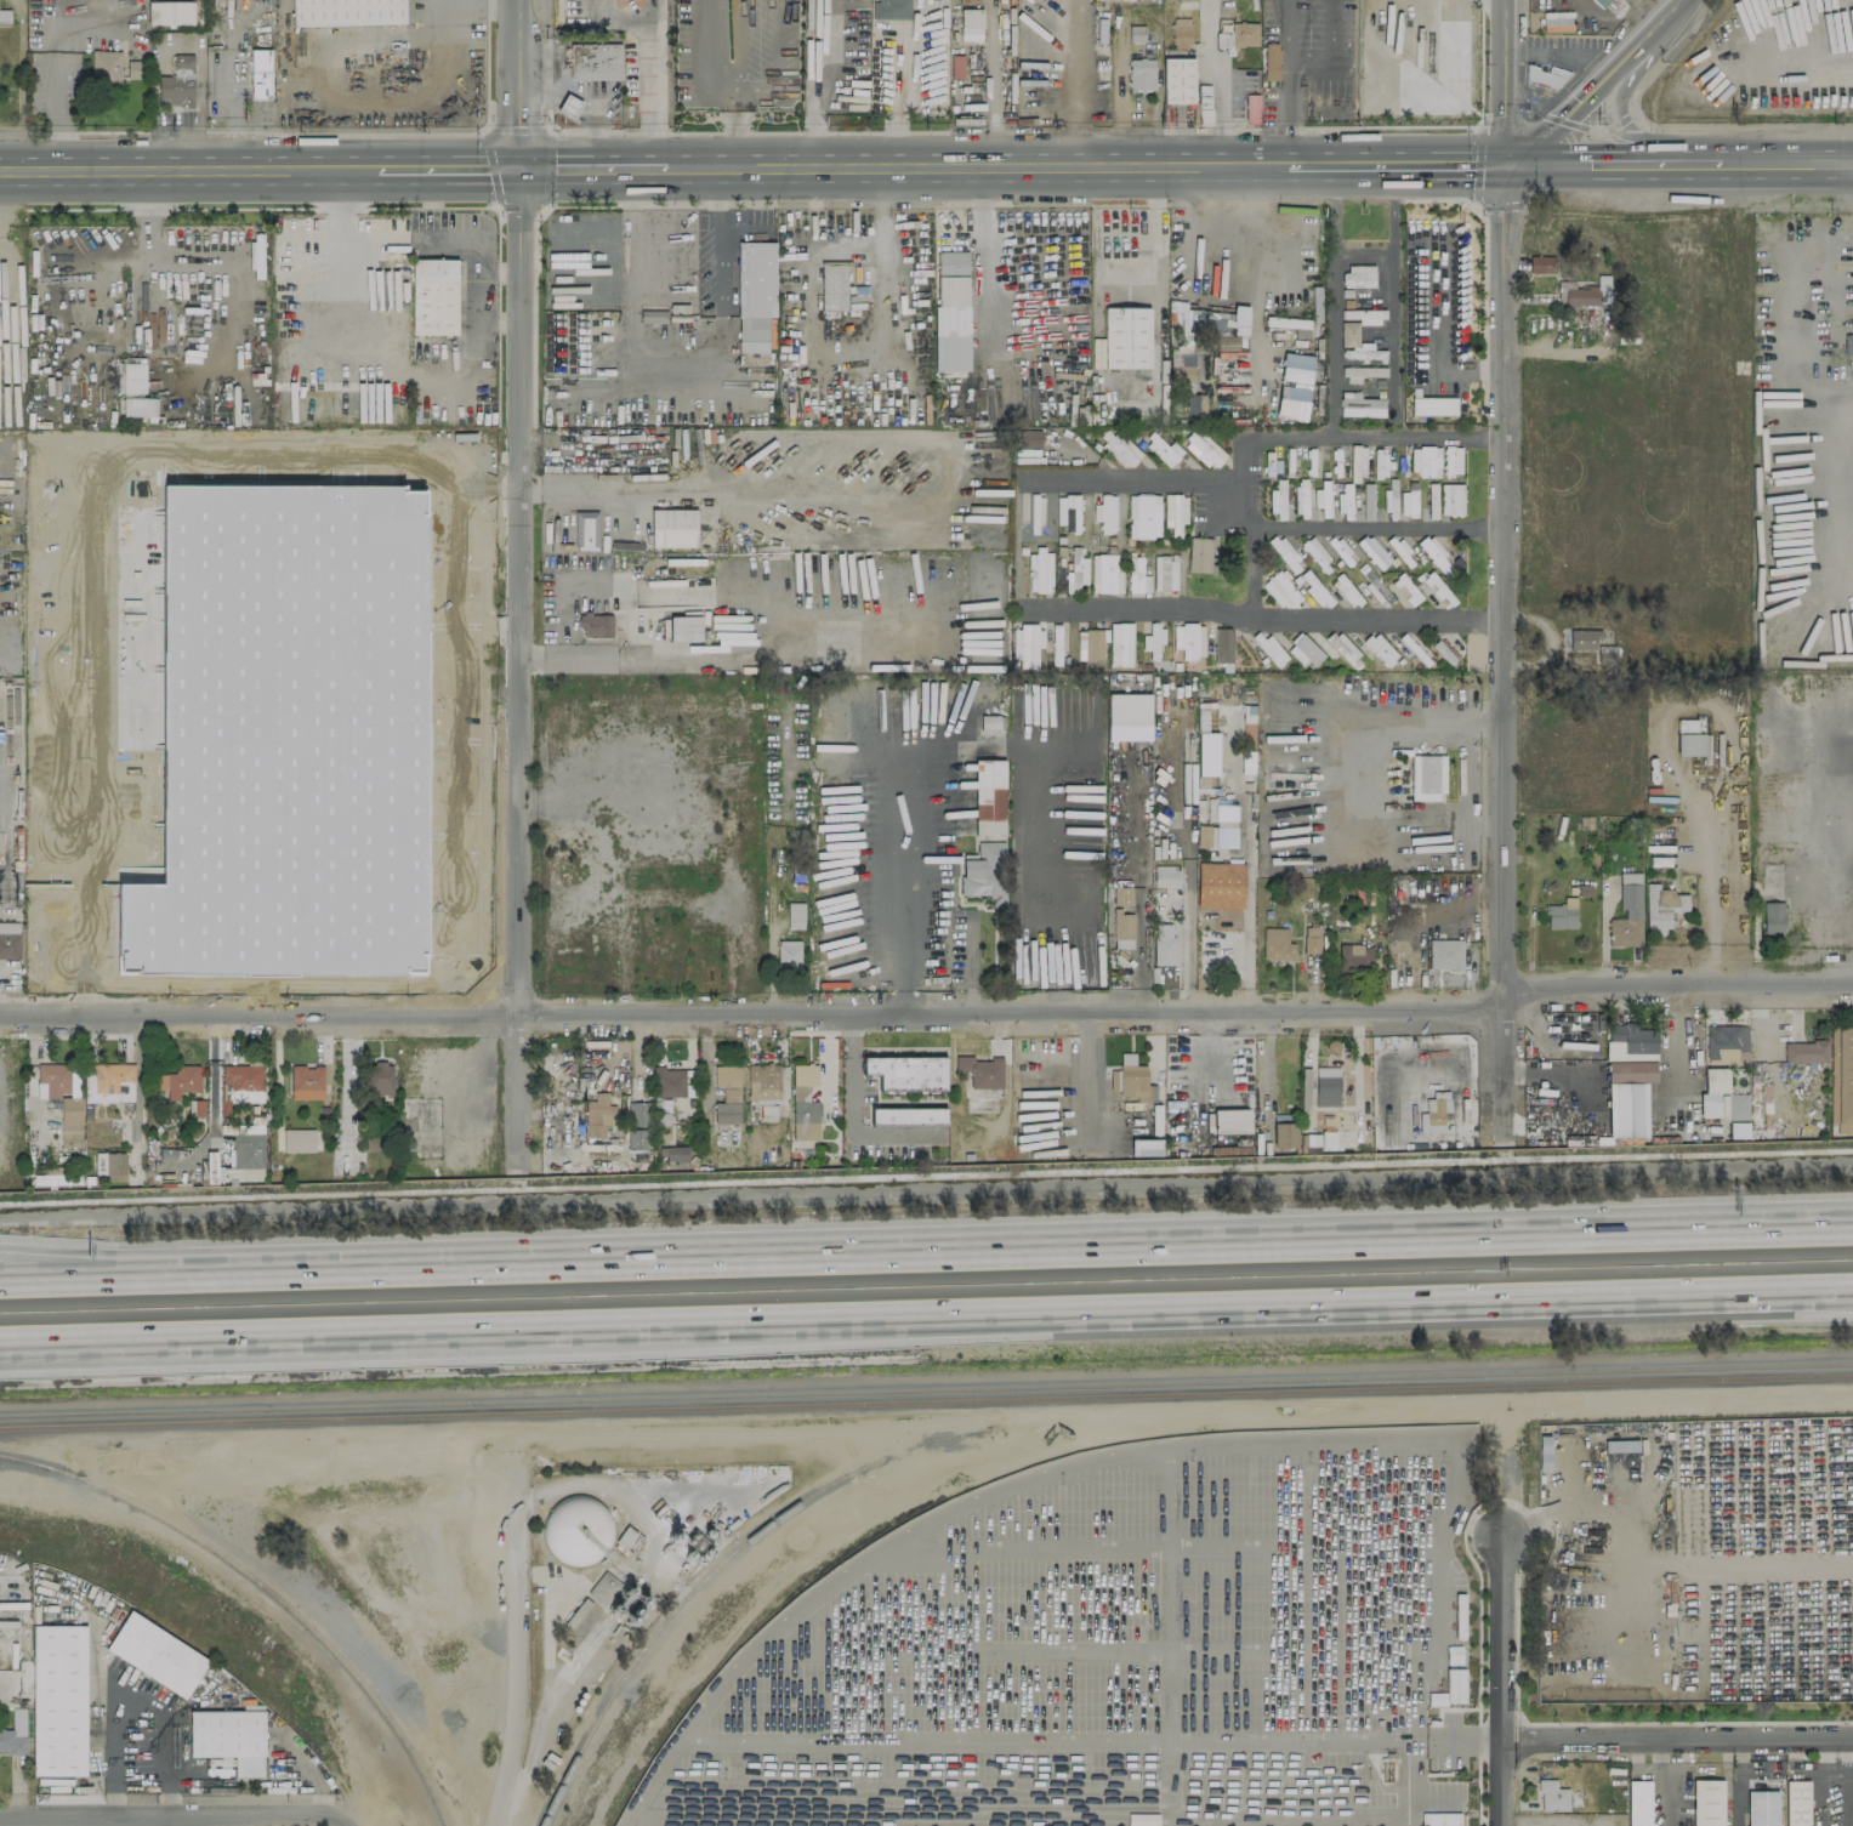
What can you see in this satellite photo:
building: (1599, 2)
building: (892, 8)
building: (170, 12)
building: (346, 12)
road: (616, 12)
building: (4, 15)
building: (1556, 21)
building: (970, 24)
road: (1288, 29)
road: (1330, 29)
building: (1136, 33)
building: (1243, 34)
road: (1309, 59)
building: (593, 61)
building: (1271, 61)
building: (106, 66)
building: (135, 69)
building: (260, 73)
building: (1141, 74)
building: (1177, 80)
road: (824, 81)
road: (991, 81)
road: (1217, 81)
building: (177, 83)
road: (523, 83)
road: (650, 83)
road: (1022, 83)
road: (1507, 83)
road: (1592, 83)
road: (55, 84)
road: (220, 89)
road: (586, 102)
road: (371, 103)
road: (897, 104)
building: (568, 106)
building: (1251, 109)
road: (1614, 110)
road: (1288, 112)
road: (233, 142)
road: (1786, 163)
road: (1580, 164)
road: (1686, 164)
road: (976, 165)
road: (1398, 165)
road: (449, 166)
road: (593, 166)
road: (187, 169)
road: (428, 188)
road: (335, 189)
road: (430, 222)
road: (983, 246)
road: (200, 258)
road: (1159, 264)
building: (1541, 264)
road: (107, 266)
building: (1358, 275)
building: (1585, 292)
building: (755, 295)
building: (433, 296)
road: (1331, 301)
road: (1394, 301)
building: (950, 311)
building: (1357, 324)
road: (484, 325)
road: (508, 325)
building: (1126, 337)
building: (845, 345)
building: (1848, 346)
building: (1363, 352)
road: (670, 370)
building: (1362, 372)
building: (132, 377)
road: (467, 379)
building: (1294, 386)
building: (1195, 404)
building: (1359, 405)
building: (138, 406)
building: (1432, 406)
road: (1364, 437)
building: (1030, 438)
road: (1453, 438)
building: (1118, 446)
building: (1204, 448)
building: (1161, 449)
building: (1357, 460)
building: (1425, 461)
building: (1451, 461)
building: (444, 473)
road: (1130, 479)
road: (586, 493)
building: (1301, 499)
building: (1323, 499)
building: (1450, 499)
building: (1278, 500)
building: (1345, 501)
building: (1366, 501)
building: (1409, 501)
building: (1432, 501)
building: (1067, 512)
building: (1105, 513)
building: (1175, 513)
building: (1143, 516)
road: (1285, 527)
building: (672, 528)
building: (585, 530)
building: (283, 536)
road: (75, 541)
building: (461, 541)
building: (411, 550)
building: (1372, 551)
building: (1314, 552)
building: (1436, 556)
building: (1040, 570)
building: (1075, 571)
road: (1249, 571)
building: (1136, 575)
building: (1160, 582)
building: (1434, 586)
building: (1280, 590)
building: (1315, 590)
building: (1405, 590)
building: (466, 597)
road: (1264, 618)
building: (595, 625)
building: (683, 627)
building: (1153, 639)
building: (1188, 639)
building: (1582, 639)
building: (1090, 643)
building: (1120, 643)
building: (1025, 644)
building: (1056, 644)
building: (1223, 645)
building: (1343, 648)
building: (1380, 648)
building: (1303, 650)
road: (632, 653)
road: (1507, 654)
building: (460, 655)
building: (414, 665)
road: (522, 665)
road: (442, 671)
building: (373, 704)
building: (434, 704)
building: (1129, 709)
building: (991, 722)
building: (1689, 743)
road: (1363, 778)
building: (1426, 778)
building: (989, 789)
road: (1834, 806)
building: (450, 807)
road: (483, 820)
building: (1217, 829)
building: (1081, 853)
building: (984, 872)
building: (1165, 875)
building: (1220, 884)
building: (1121, 895)
road: (1711, 898)
building: (1661, 905)
road: (902, 911)
building: (1562, 914)
building: (1627, 914)
building: (795, 915)
building: (1772, 917)
building: (1122, 925)
road: (1246, 935)
road: (1188, 938)
building: (1311, 938)
building: (8, 940)
building: (1164, 944)
building: (1277, 944)
building: (120, 951)
building: (788, 954)
building: (1445, 955)
building: (1352, 958)
road: (968, 962)
road: (930, 1009)
building: (1723, 1043)
building: (1804, 1052)
road: (217, 1071)
building: (981, 1071)
building: (906, 1073)
building: (379, 1077)
building: (1841, 1077)
building: (1629, 1079)
building: (1129, 1080)
building: (56, 1081)
building: (110, 1081)
building: (180, 1081)
building: (666, 1081)
building: (762, 1081)
building: (306, 1082)
building: (241, 1083)
building: (1326, 1086)
building: (1711, 1091)
building: (1305, 1092)
building: (726, 1093)
building: (803, 1102)
building: (1760, 1103)
road: (851, 1110)
building: (661, 1113)
building: (596, 1114)
building: (906, 1115)
building: (1737, 1116)
building: (70, 1121)
building: (1230, 1121)
building: (636, 1124)
building: (248, 1128)
building: (1283, 1134)
building: (299, 1139)
building: (1314, 1142)
building: (1144, 1147)
building: (248, 1150)
building: (672, 1153)
building: (109, 1165)
building: (47, 1179)
road: (1169, 1248)
road: (119, 1261)
road: (362, 1270)
road: (119, 1279)
road: (1120, 1305)
road: (193, 1331)
road: (116, 1358)
railway: (926, 1390)
railway: (926, 1403)
building: (1620, 1445)
building: (1542, 1452)
road: (1450, 1506)
building: (576, 1530)
railway: (716, 1571)
railway: (267, 1588)
road: (521, 1649)
building: (155, 1654)
road: (1504, 1679)
building: (1450, 1689)
building: (58, 1700)
road: (131, 1700)
road: (1678, 1731)
building: (13, 1734)
building: (228, 1737)
road: (1660, 1746)
road: (1739, 1777)
road: (1819, 1777)
road: (1846, 1779)
road: (1662, 1793)
building: (1551, 1796)
building: (1638, 1803)
building: (1706, 1803)
building: (1797, 1803)
building: (1761, 1808)
road: (184, 1815)
road: (711, 1819)
building: (1442, 1819)
road: (154, 1821)

